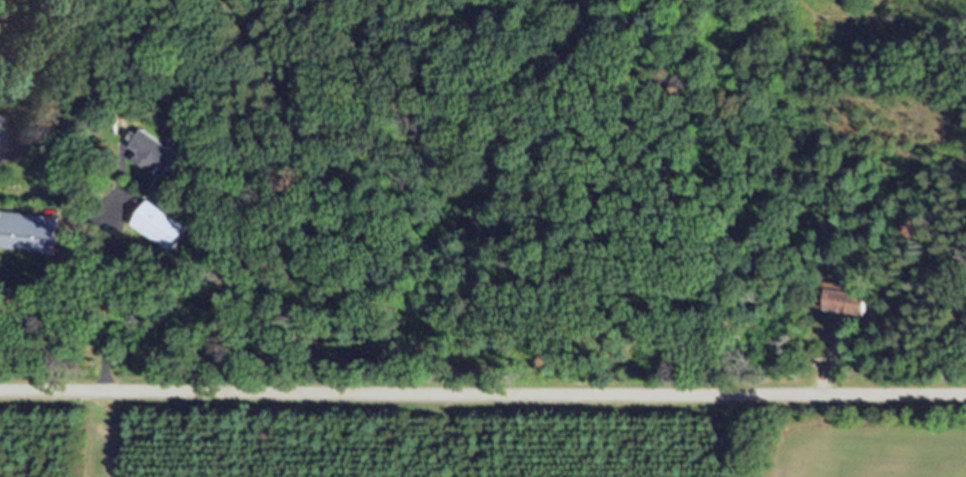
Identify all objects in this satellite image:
building: (288, 1)
building: (160, 160)
building: (163, 232)
building: (31, 240)
building: (848, 309)
road: (482, 392)

